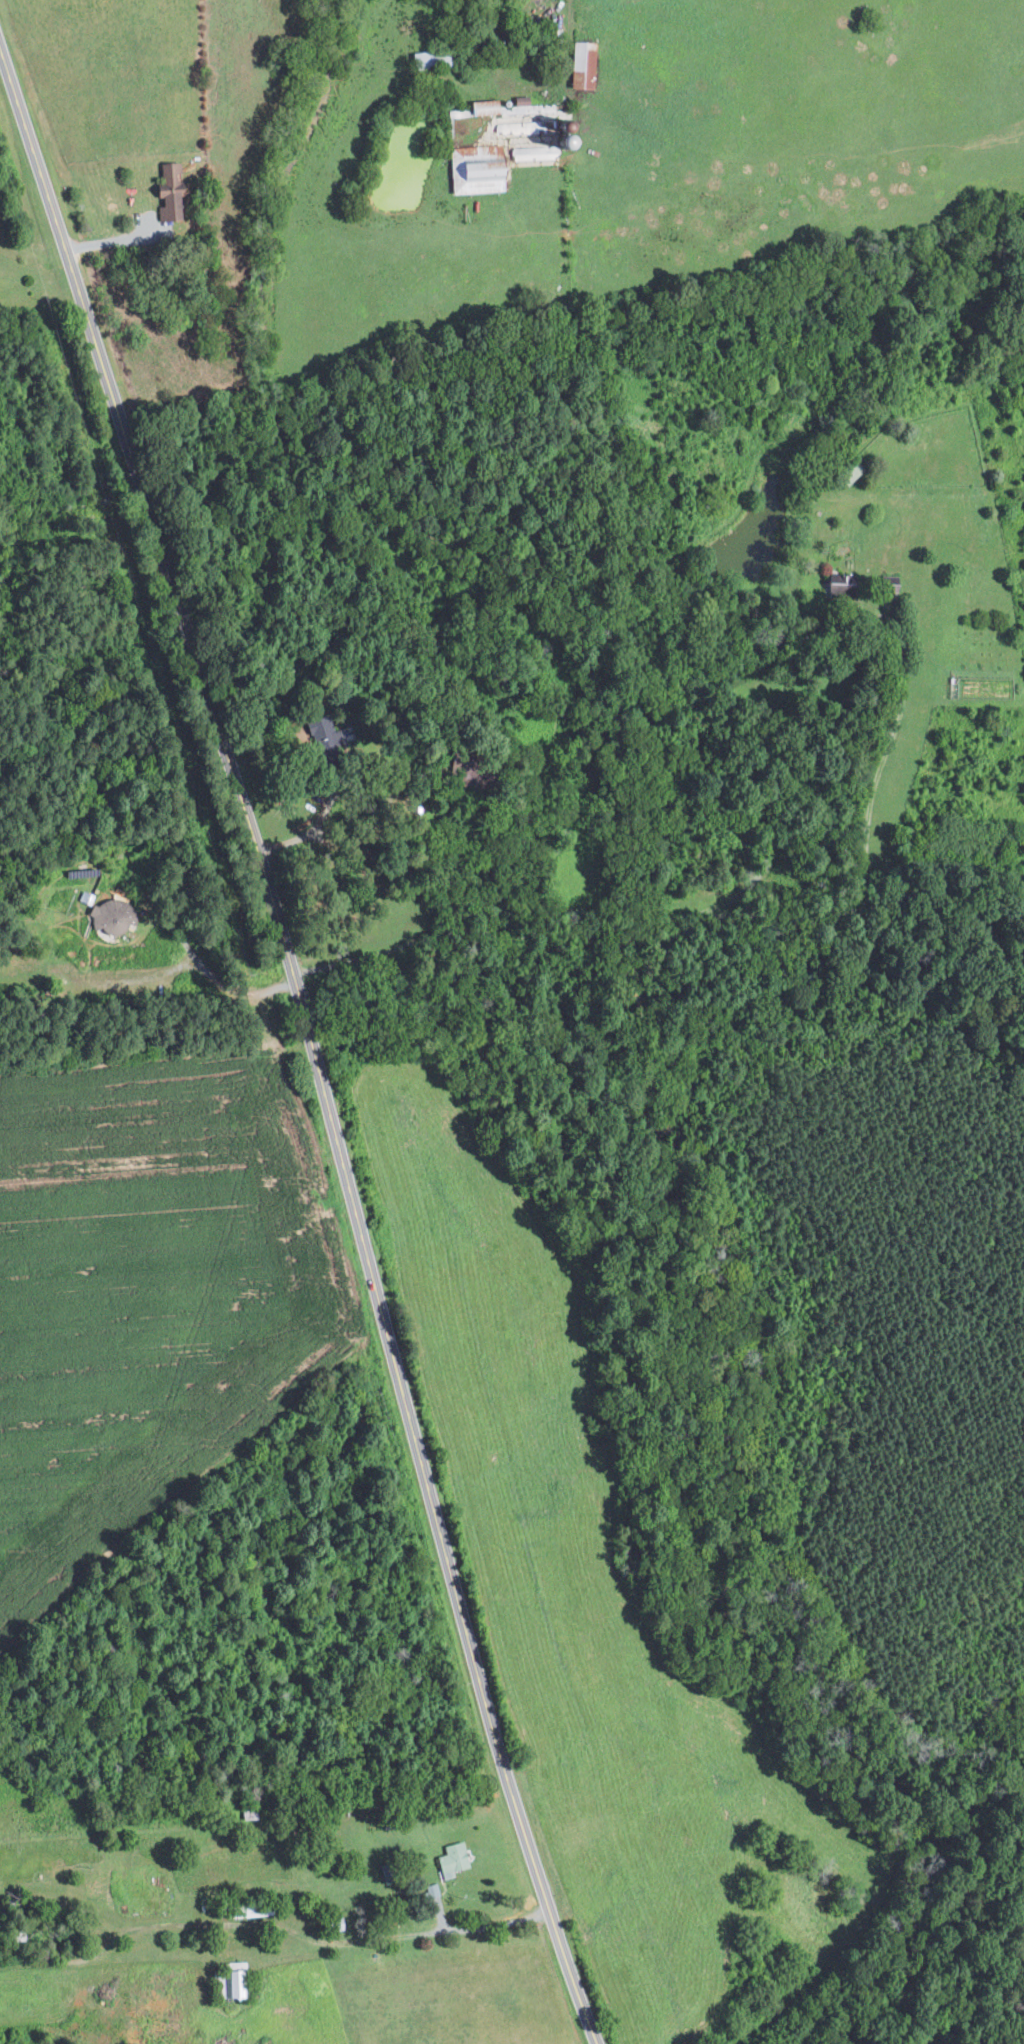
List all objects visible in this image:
building: (427, 57)
building: (580, 64)
building: (481, 106)
building: (514, 128)
building: (532, 152)
building: (473, 168)
building: (166, 189)
road: (125, 240)
road: (66, 517)
building: (887, 583)
building: (838, 585)
road: (765, 729)
building: (322, 732)
building: (111, 916)
road: (306, 1044)
building: (451, 1859)
building: (432, 1890)
road: (273, 1926)
building: (227, 1983)

